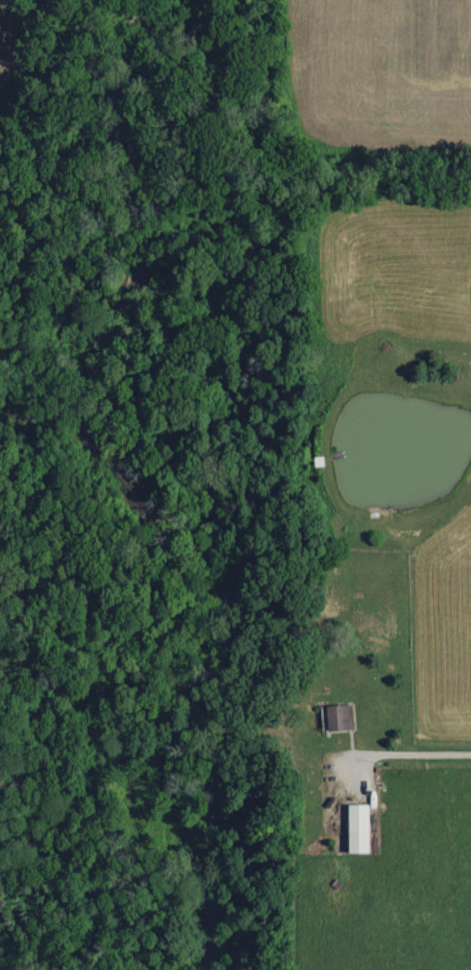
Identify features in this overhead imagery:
building: (341, 719)
building: (361, 830)

